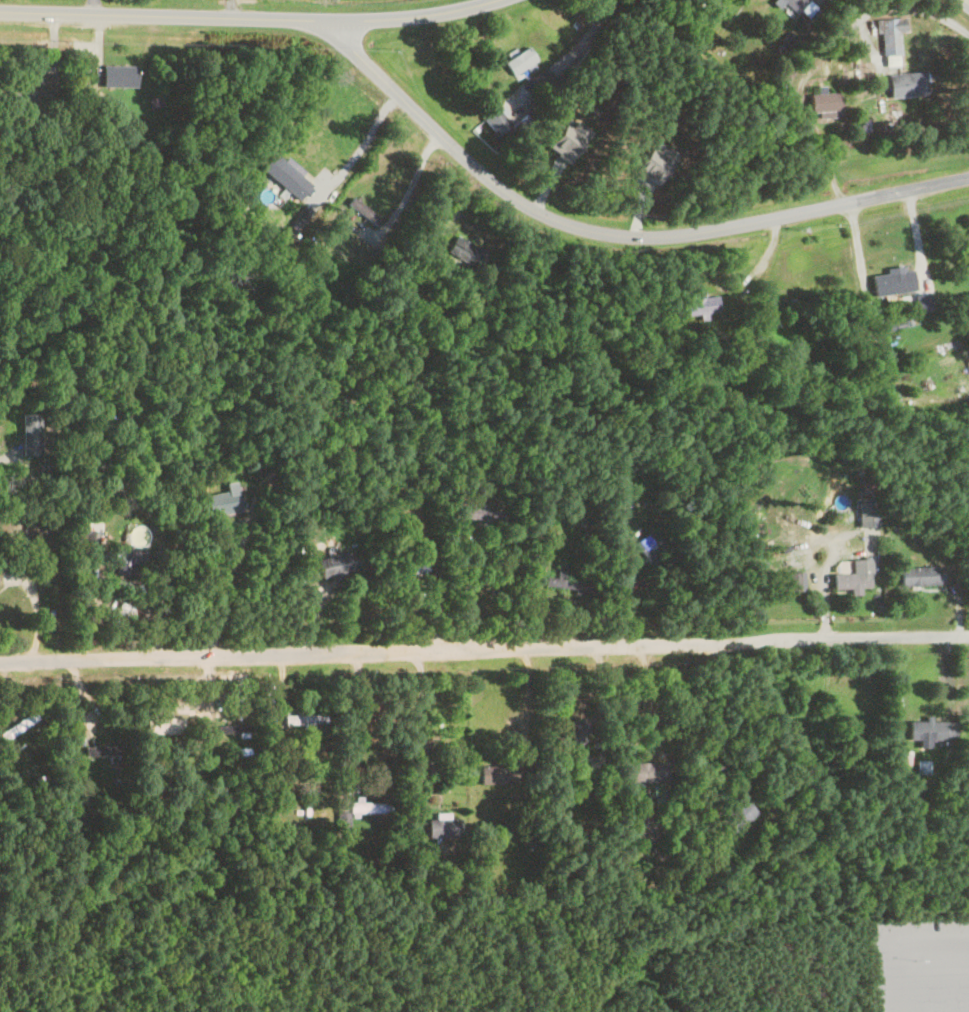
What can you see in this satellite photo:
building: (794, 5)
road: (93, 6)
road: (230, 8)
road: (247, 17)
building: (889, 37)
building: (520, 61)
building: (118, 75)
building: (907, 84)
building: (825, 101)
building: (495, 121)
road: (374, 141)
road: (415, 178)
building: (362, 211)
road: (615, 229)
building: (466, 252)
building: (895, 291)
building: (701, 303)
building: (968, 365)
building: (30, 434)
building: (500, 486)
building: (222, 503)
building: (475, 515)
road: (19, 547)
building: (649, 551)
building: (121, 560)
building: (408, 565)
building: (336, 566)
building: (920, 576)
building: (565, 582)
building: (788, 582)
building: (851, 582)
road: (227, 586)
road: (469, 588)
road: (484, 647)
road: (647, 691)
road: (526, 696)
road: (207, 703)
road: (357, 715)
building: (304, 720)
road: (421, 720)
building: (164, 725)
building: (234, 730)
building: (931, 731)
building: (571, 735)
building: (100, 751)
building: (646, 772)
building: (497, 774)
building: (361, 811)
building: (737, 816)
building: (443, 827)
parking lot: (922, 966)
road: (932, 1006)

